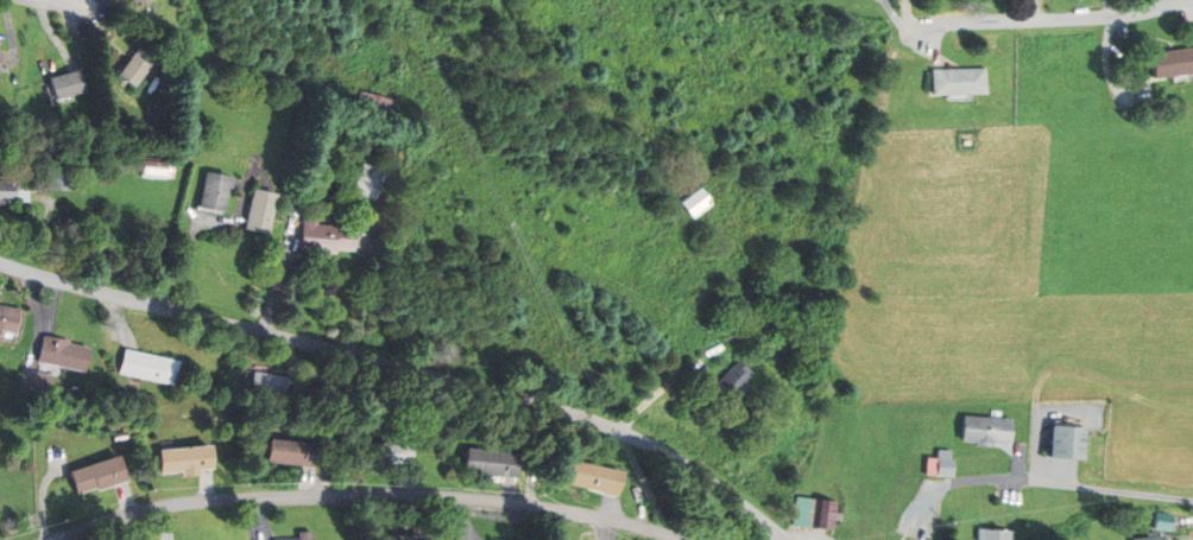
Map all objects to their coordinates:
building: (137, 1)
road: (64, 4)
road: (1056, 19)
building: (0, 53)
building: (1173, 63)
building: (135, 65)
building: (958, 81)
building: (68, 82)
building: (378, 106)
building: (373, 144)
building: (152, 167)
building: (55, 177)
building: (368, 180)
building: (8, 188)
building: (213, 191)
building: (692, 196)
building: (258, 211)
building: (323, 236)
building: (8, 318)
building: (728, 330)
building: (62, 354)
building: (149, 367)
road: (408, 368)
building: (34, 380)
building: (732, 380)
building: (269, 383)
building: (987, 428)
building: (1066, 441)
building: (290, 451)
building: (385, 453)
building: (184, 458)
building: (492, 462)
building: (945, 468)
building: (97, 475)
building: (595, 477)
road: (1047, 482)
road: (370, 494)
building: (806, 512)
building: (826, 514)
building: (1162, 521)
building: (996, 534)
building: (301, 535)
building: (398, 538)
building: (1154, 538)

